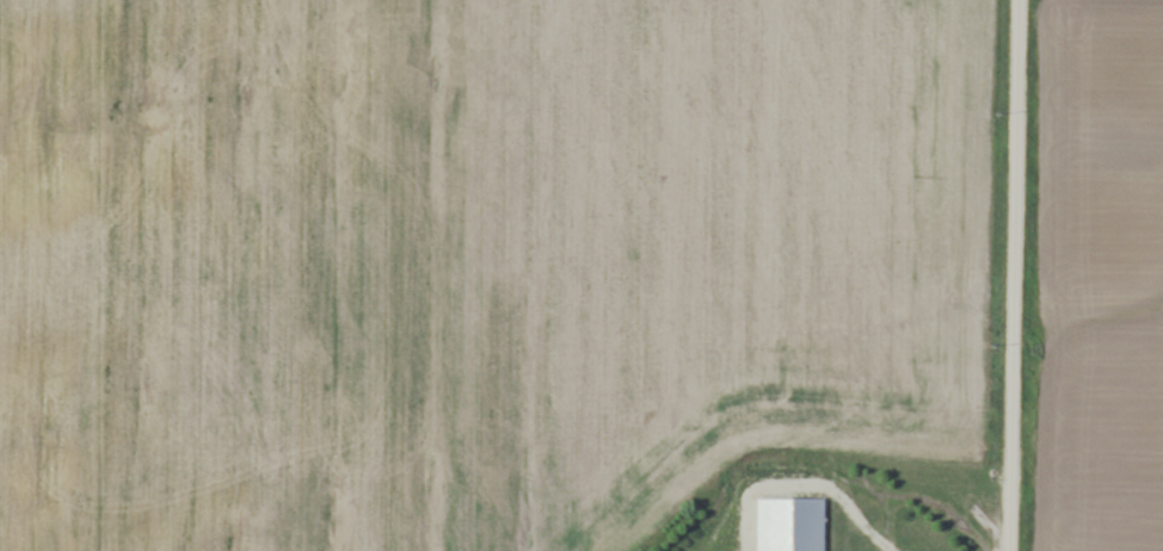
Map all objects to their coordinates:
road: (1009, 274)

